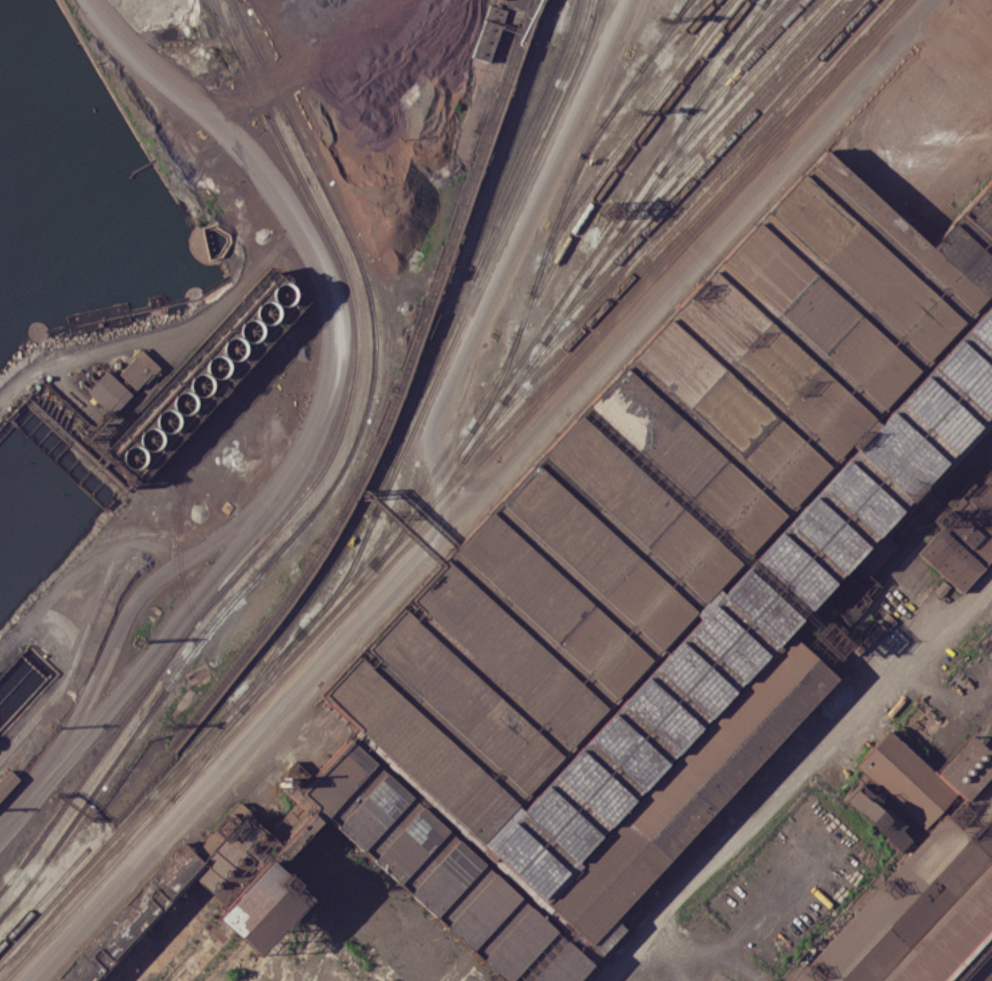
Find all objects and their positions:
railway: (765, 3)
railway: (684, 7)
road: (976, 11)
railway: (750, 30)
building: (488, 33)
railway: (670, 34)
railway: (590, 36)
railway: (240, 58)
railway: (738, 58)
railway: (656, 62)
railway: (727, 83)
railway: (725, 114)
railway: (524, 137)
railway: (622, 140)
railway: (712, 141)
railway: (623, 160)
railway: (669, 162)
railway: (685, 199)
railway: (561, 205)
railway: (671, 229)
railway: (629, 247)
railway: (571, 283)
railway: (449, 348)
railway: (433, 363)
building: (138, 368)
building: (204, 376)
building: (108, 391)
railway: (395, 396)
railway: (391, 467)
railway: (448, 486)
railway: (458, 491)
railway: (326, 494)
road: (228, 528)
railway: (275, 529)
road: (248, 530)
road: (427, 540)
building: (637, 599)
railway: (274, 661)
road: (70, 671)
railway: (272, 671)
building: (9, 699)
road: (823, 755)
railway: (204, 758)
building: (6, 780)
road: (40, 784)
building: (917, 870)
railway: (44, 896)

